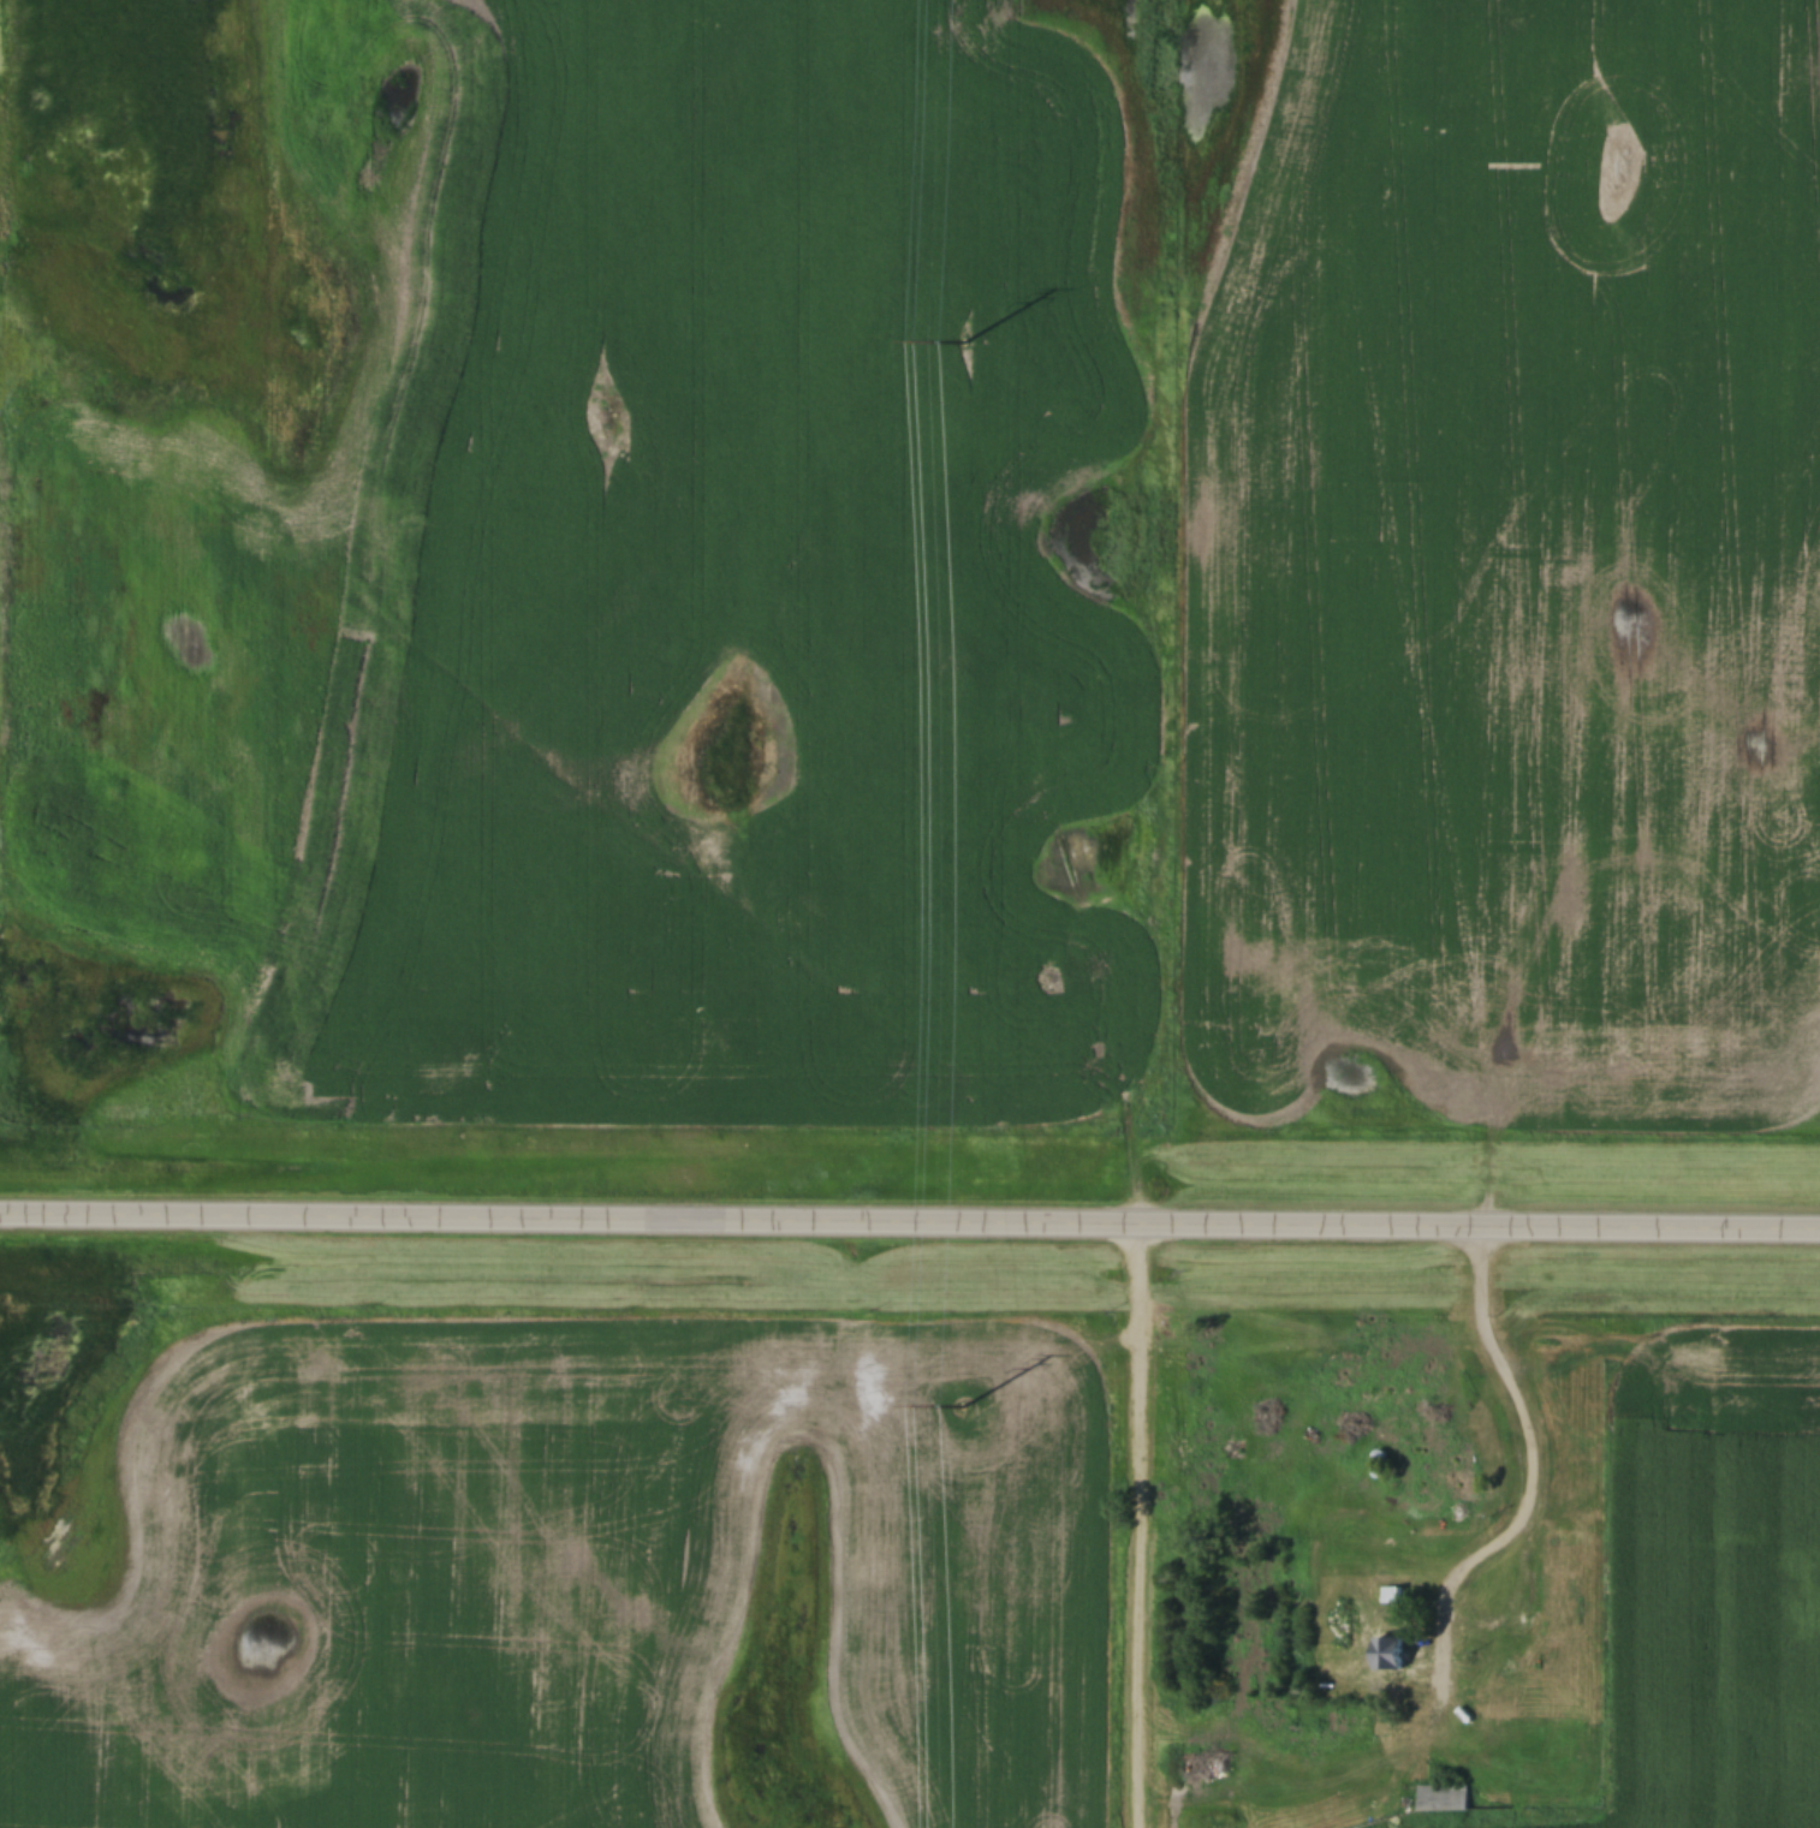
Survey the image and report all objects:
power tower: (970, 331)
road: (910, 1229)
power tower: (969, 1406)
road: (1159, 1530)
building: (1391, 1594)
building: (1392, 1656)

